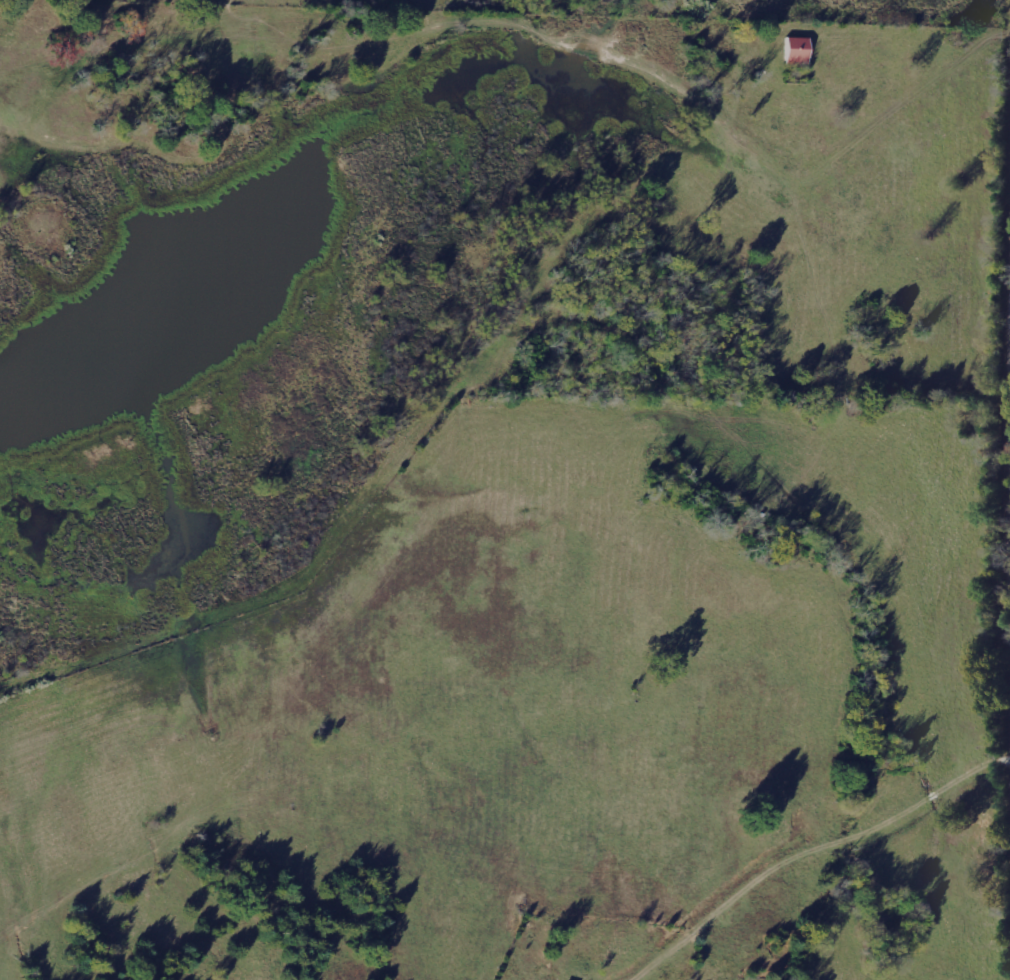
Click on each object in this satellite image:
building: (798, 50)

